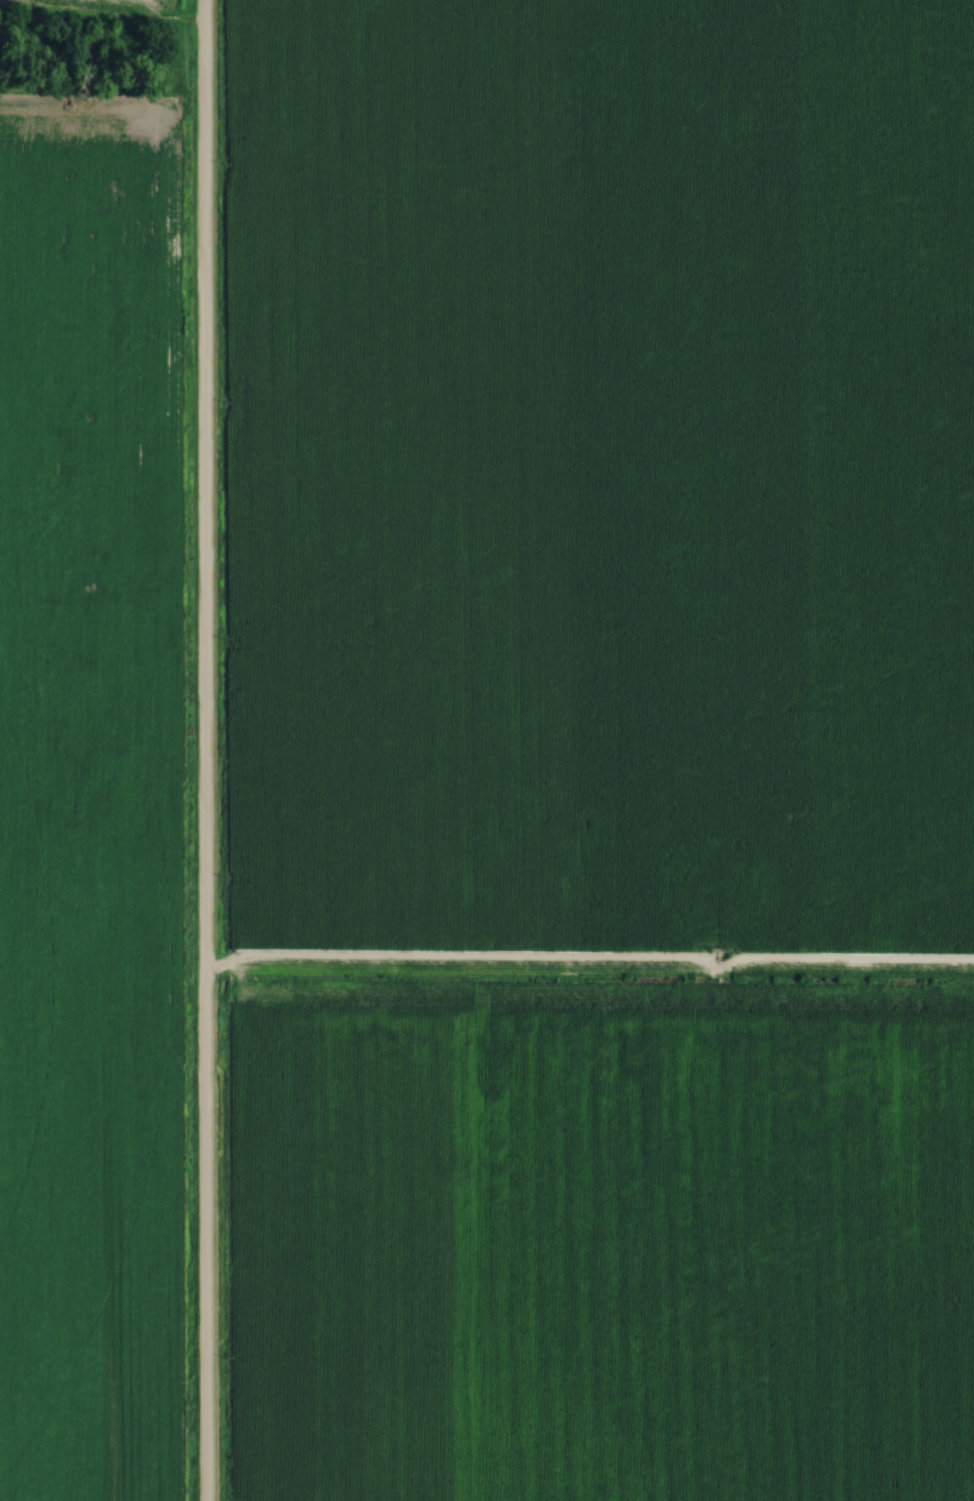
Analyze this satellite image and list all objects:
road: (201, 750)

